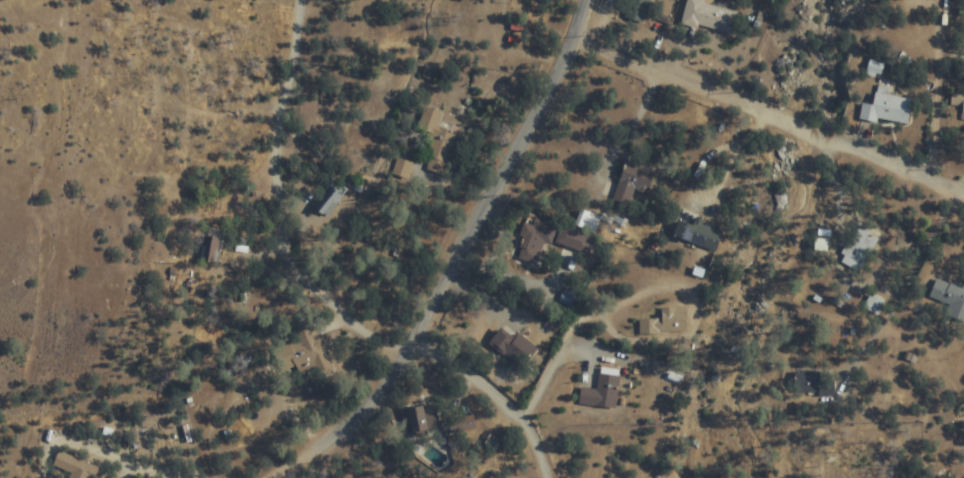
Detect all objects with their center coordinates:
building: (637, 11)
building: (708, 18)
building: (874, 70)
building: (960, 107)
building: (887, 112)
road: (771, 117)
building: (435, 140)
building: (633, 178)
building: (329, 197)
building: (697, 233)
building: (534, 239)
building: (573, 239)
building: (858, 248)
building: (209, 249)
road: (462, 259)
road: (320, 291)
building: (949, 296)
building: (666, 321)
building: (513, 347)
building: (303, 354)
building: (810, 383)
building: (601, 390)
building: (424, 418)
building: (461, 423)
building: (849, 462)
building: (71, 467)

